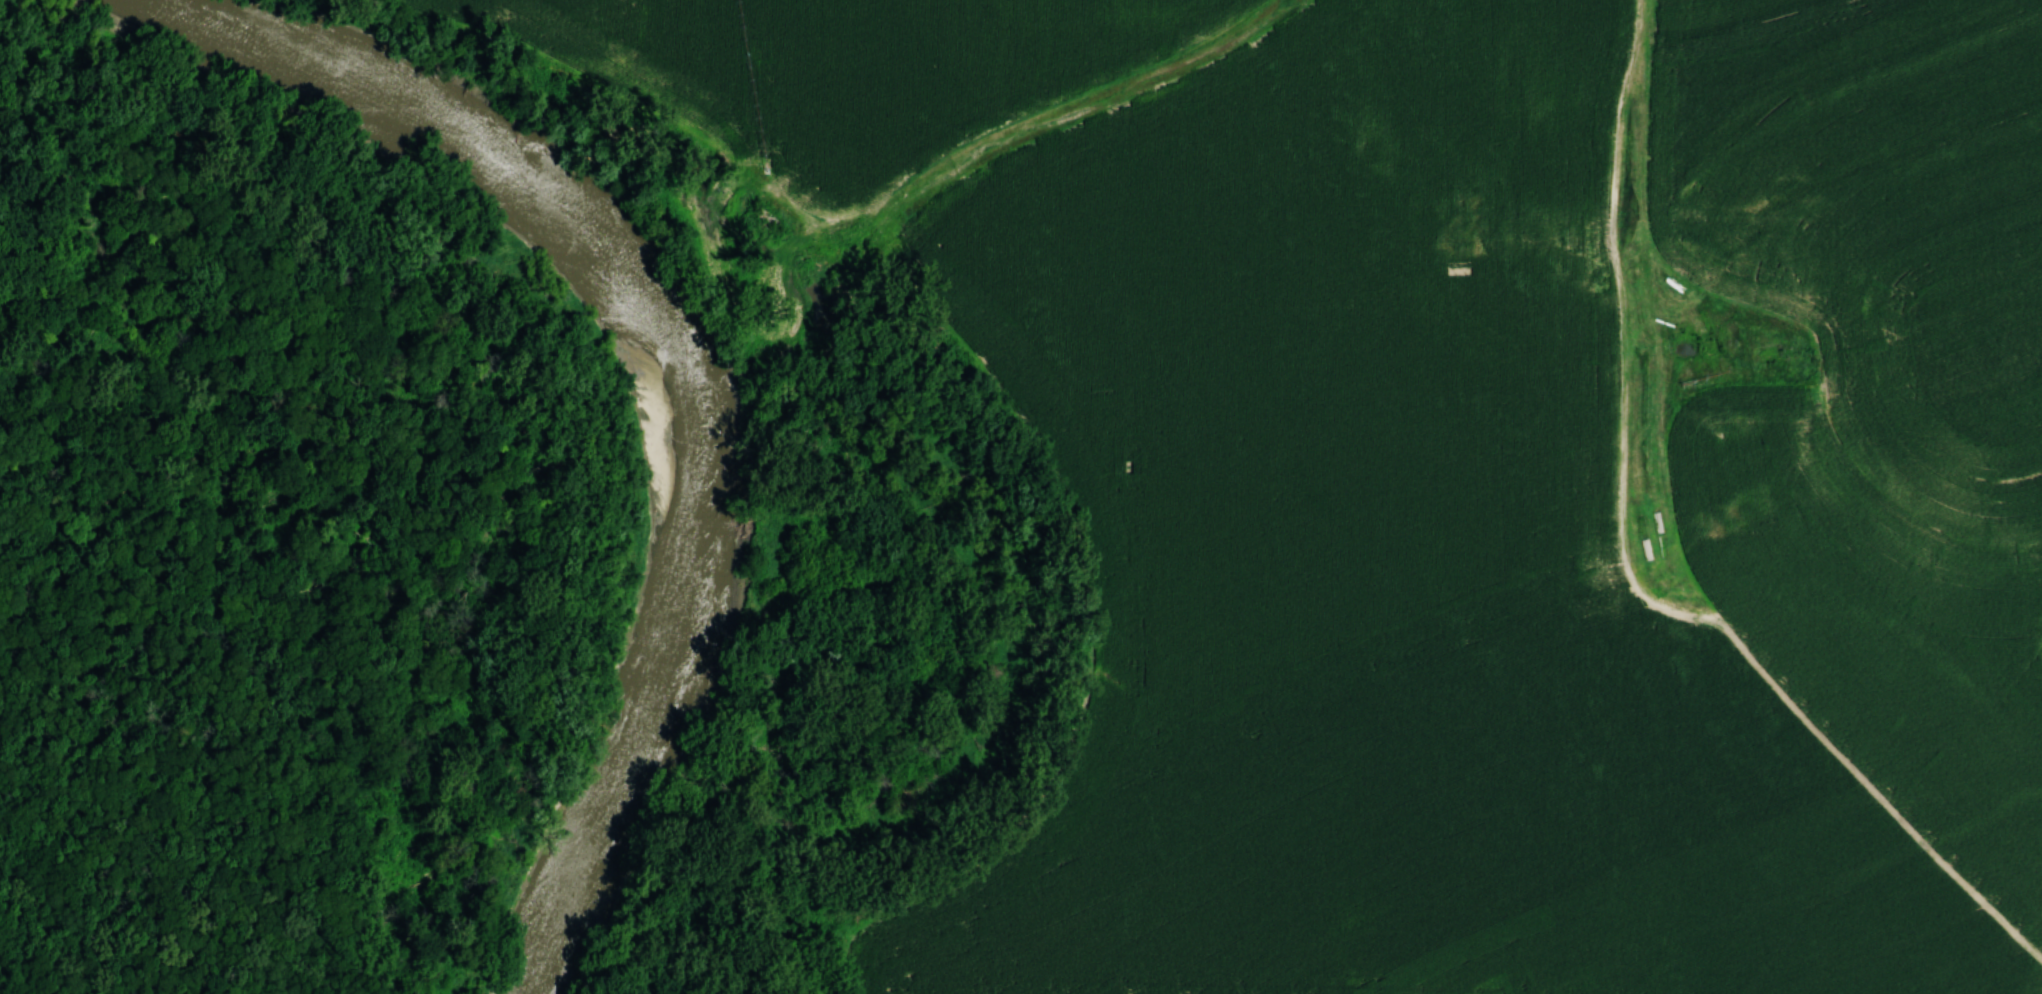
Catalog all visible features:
river: (657, 365)

